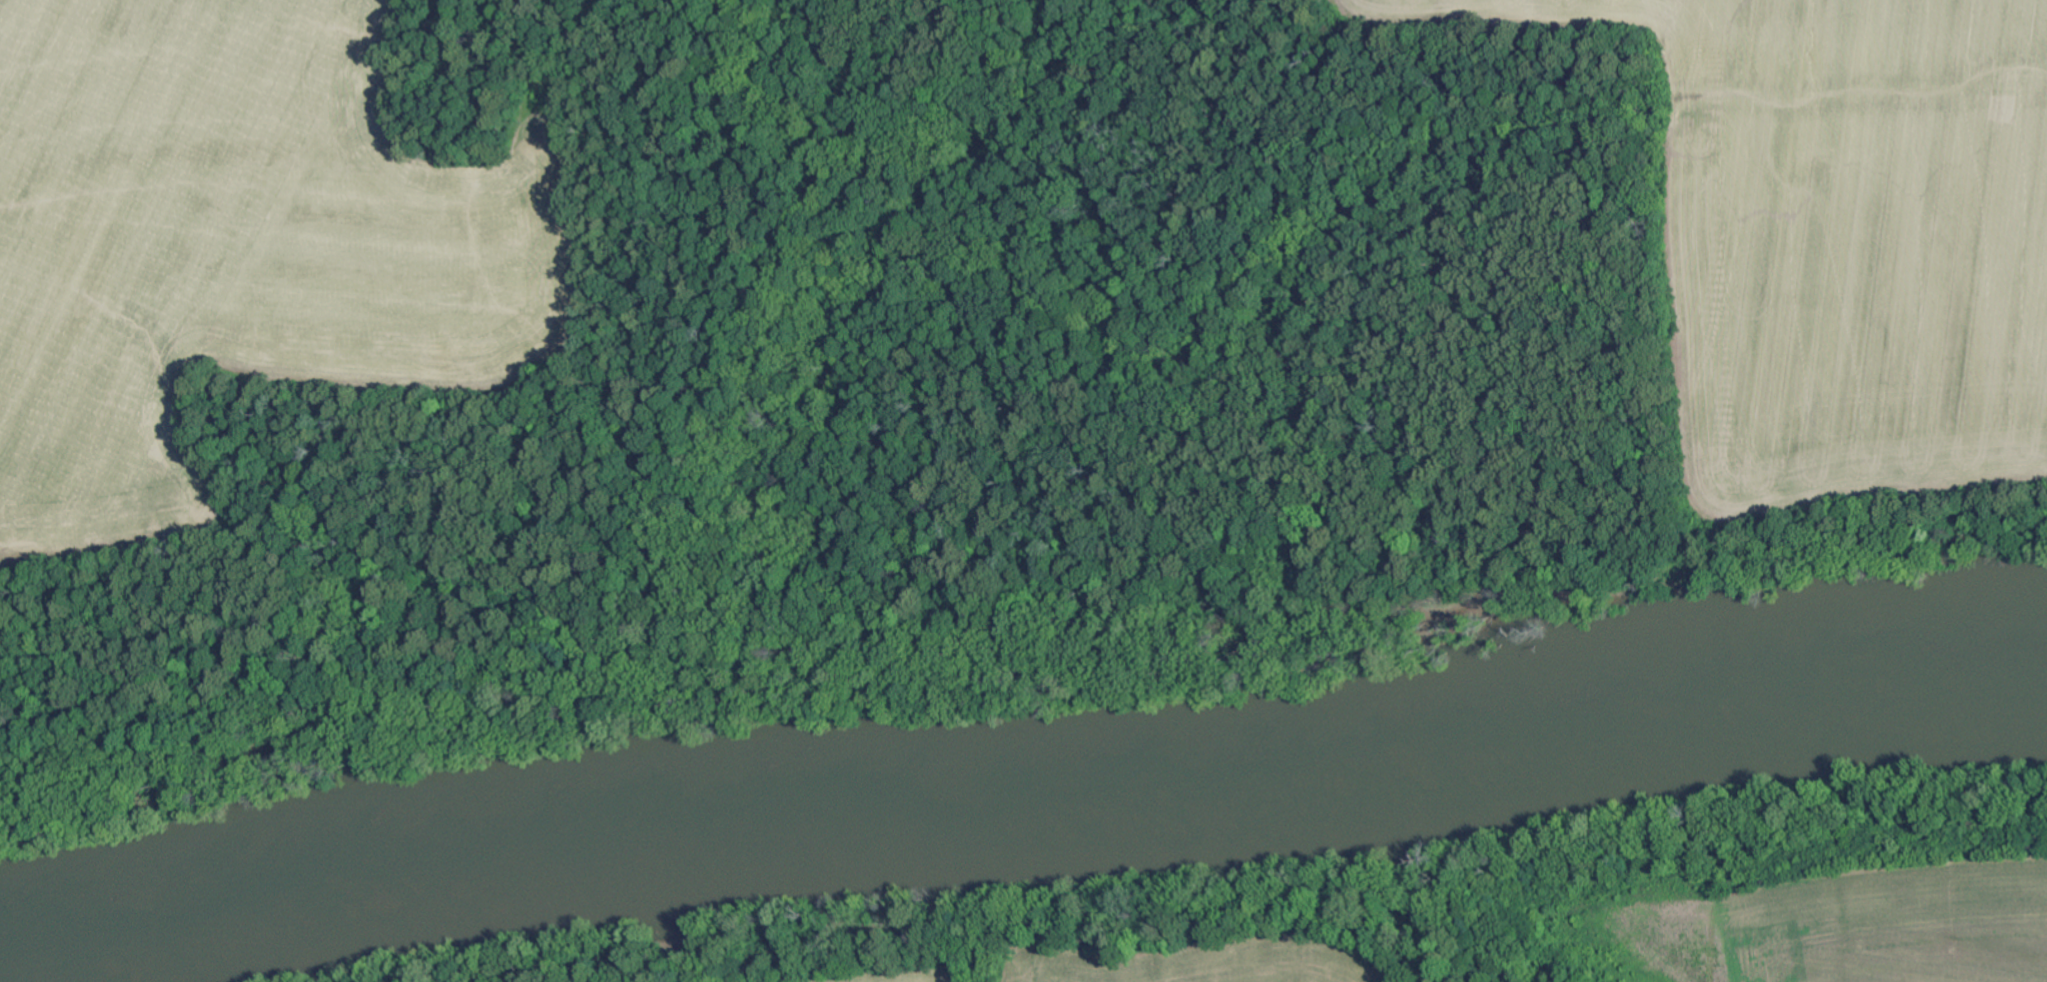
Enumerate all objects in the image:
river: (1019, 779)

